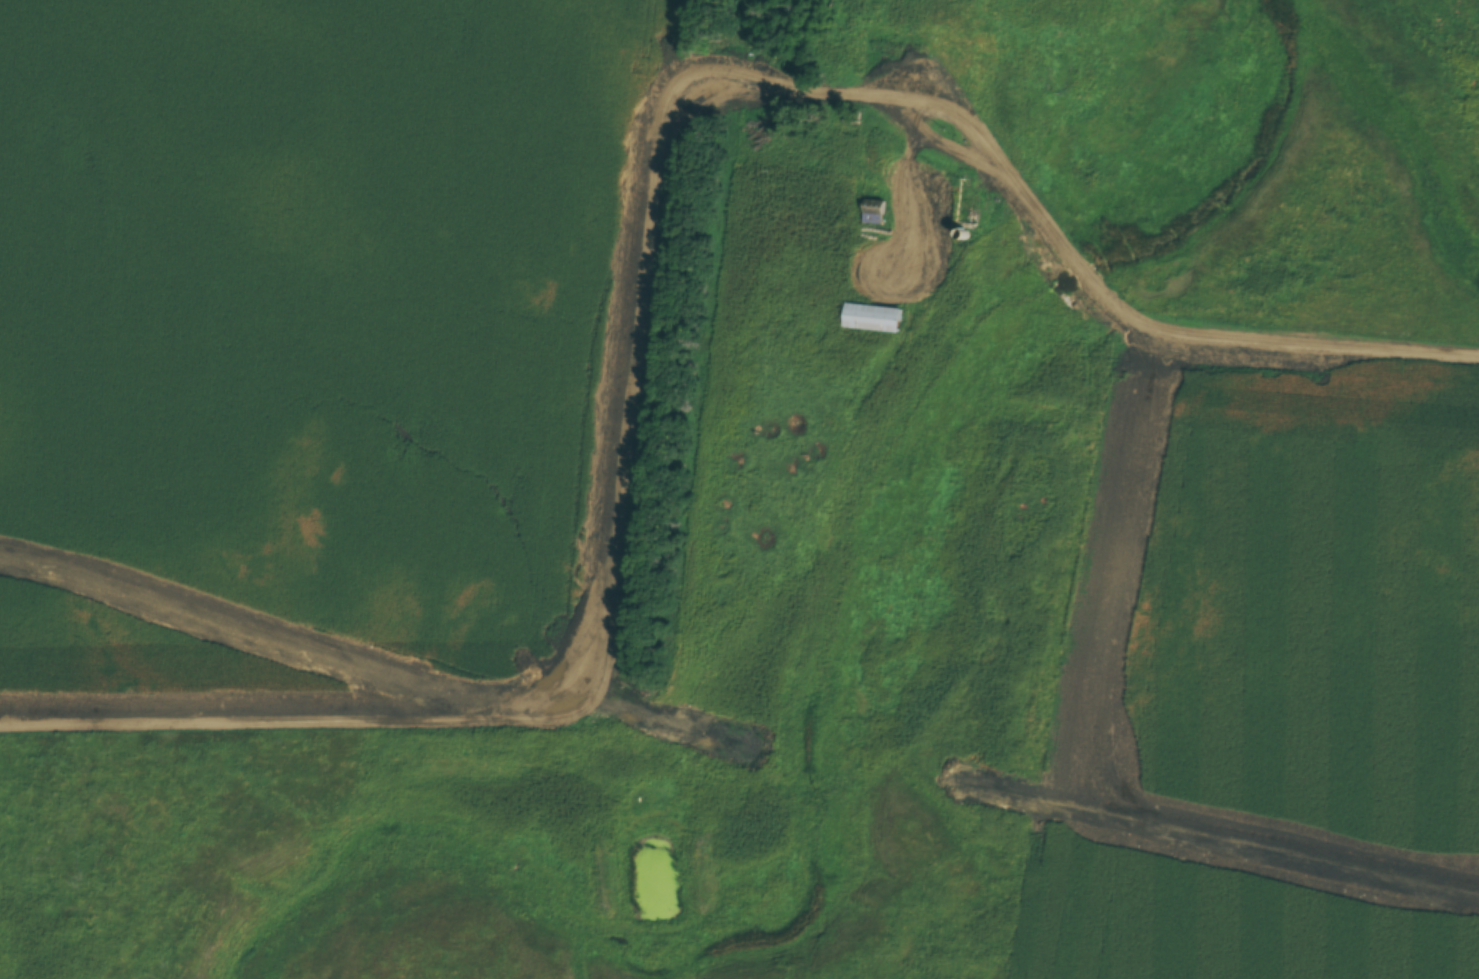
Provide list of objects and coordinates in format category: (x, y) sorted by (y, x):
building: (965, 210)
building: (873, 216)
building: (872, 319)

